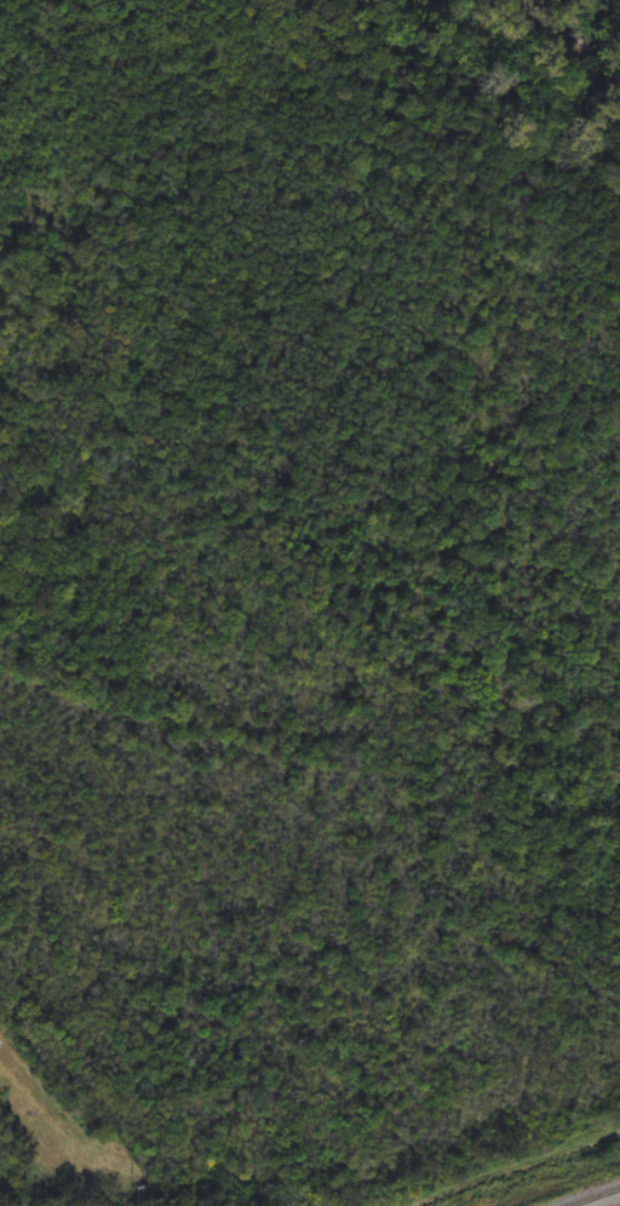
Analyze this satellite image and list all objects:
river: (573, 41)
road: (511, 1164)
railway: (598, 1198)

